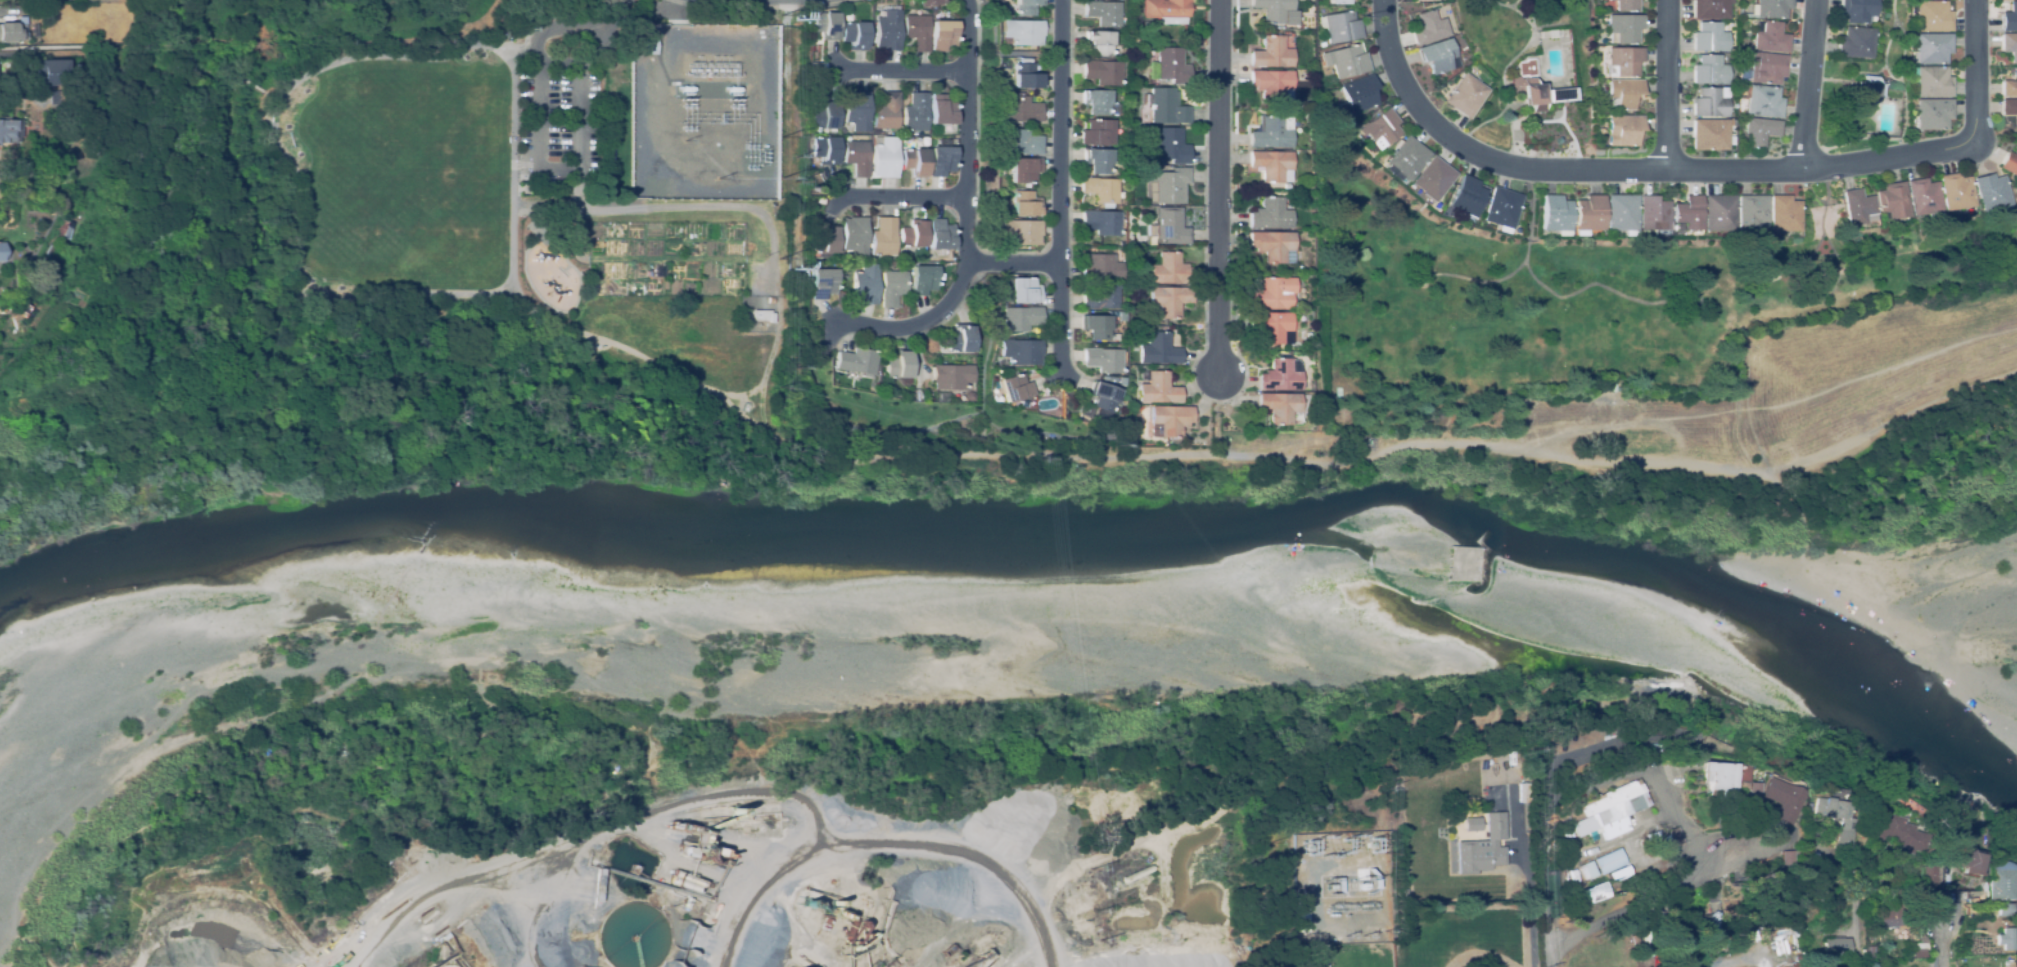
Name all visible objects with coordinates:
building: (1426, 0)
building: (121, 1)
building: (1338, 1)
building: (928, 2)
building: (1626, 5)
building: (1027, 7)
building: (1770, 8)
building: (1273, 9)
building: (1710, 9)
road: (7, 10)
road: (615, 11)
building: (1166, 11)
building: (1858, 11)
building: (1103, 12)
building: (1931, 16)
building: (2009, 18)
building: (825, 25)
building: (1341, 26)
building: (1430, 27)
building: (1625, 27)
building: (32, 31)
building: (887, 31)
building: (916, 31)
building: (1023, 31)
building: (7, 33)
building: (854, 35)
building: (942, 35)
building: (1709, 37)
building: (1770, 38)
building: (1131, 41)
building: (1099, 42)
building: (1856, 42)
building: (2009, 45)
road: (144, 48)
building: (1931, 48)
road: (520, 51)
building: (1271, 53)
building: (1438, 56)
building: (1344, 60)
building: (1625, 60)
building: (813, 66)
building: (1171, 66)
building: (1767, 68)
road: (902, 69)
building: (1709, 70)
road: (1975, 70)
building: (1102, 72)
building: (47, 73)
building: (1312, 73)
building: (1025, 76)
building: (1931, 82)
road: (1809, 83)
building: (1272, 85)
road: (1667, 85)
building: (1321, 87)
building: (2009, 88)
building: (1537, 89)
building: (1624, 92)
building: (1866, 92)
building: (1359, 93)
building: (1465, 95)
building: (1319, 97)
building: (1763, 101)
building: (1710, 102)
building: (1098, 103)
building: (63, 104)
building: (1166, 107)
building: (2009, 107)
building: (1022, 109)
building: (856, 110)
building: (941, 110)
building: (1286, 110)
building: (704, 111)
power substation: (704, 111)
building: (886, 112)
building: (915, 112)
building: (1932, 113)
building: (824, 116)
building: (1380, 128)
building: (1731, 128)
building: (8, 130)
building: (1623, 130)
building: (1758, 131)
building: (1096, 132)
building: (1270, 133)
building: (1709, 134)
building: (1731, 141)
building: (1021, 142)
building: (1168, 146)
building: (825, 150)
building: (856, 157)
building: (885, 157)
building: (1406, 158)
building: (941, 160)
building: (1098, 160)
building: (915, 161)
building: (2009, 163)
building: (1272, 165)
building: (1024, 169)
road: (1630, 171)
road: (537, 172)
park: (406, 173)
building: (1432, 178)
building: (1170, 186)
building: (1286, 186)
road: (1059, 187)
road: (1218, 187)
building: (1101, 189)
road: (581, 191)
building: (1003, 192)
building: (1990, 192)
building: (1956, 193)
road: (901, 196)
building: (1466, 196)
building: (1923, 198)
building: (1892, 200)
building: (822, 201)
park: (520, 202)
building: (1025, 203)
building: (1857, 206)
building: (1501, 208)
building: (1150, 209)
building: (1688, 212)
building: (1719, 212)
building: (1621, 213)
building: (1783, 213)
building: (1269, 214)
building: (1555, 214)
building: (1588, 214)
building: (1653, 214)
building: (1750, 214)
road: (966, 221)
building: (1100, 222)
building: (1167, 227)
building: (63, 229)
building: (1021, 231)
building: (1297, 233)
building: (913, 235)
building: (940, 235)
building: (884, 236)
building: (854, 237)
building: (824, 242)
building: (1272, 246)
building: (46, 251)
road: (1013, 263)
building: (1099, 267)
building: (1168, 269)
building: (922, 279)
building: (822, 283)
road: (296, 284)
building: (865, 284)
building: (892, 288)
building: (1019, 290)
building: (1271, 294)
building: (1098, 297)
building: (770, 300)
building: (1167, 300)
building: (763, 316)
road: (778, 318)
building: (1018, 318)
building: (1268, 326)
building: (1095, 328)
building: (959, 340)
building: (1155, 350)
building: (1018, 351)
building: (1100, 359)
building: (856, 361)
building: (897, 365)
building: (1007, 371)
building: (949, 376)
building: (1277, 376)
building: (1118, 382)
building: (1011, 388)
building: (1155, 389)
building: (1099, 398)
building: (1276, 406)
building: (1165, 420)
river: (1018, 549)
road: (1615, 768)
building: (1715, 779)
building: (1744, 792)
building: (1772, 800)
building: (1600, 811)
building: (1835, 834)
building: (1893, 834)
building: (1644, 837)
building: (1664, 839)
building: (1464, 842)
building: (1959, 856)
building: (1778, 859)
building: (1603, 862)
building: (1582, 871)
building: (1612, 873)
building: (1569, 875)
building: (1928, 875)
building: (1997, 886)
road: (1655, 889)
building: (1587, 892)
building: (860, 903)
building: (2005, 911)
building: (477, 914)
road: (1550, 914)
building: (1894, 916)
building: (824, 924)
building: (1713, 928)
building: (1917, 933)
building: (1666, 935)
building: (444, 936)
building: (1307, 936)
road: (1849, 937)
building: (1645, 940)
road: (1944, 940)
building: (2006, 940)
building: (1795, 941)
building: (1422, 945)
building: (1835, 949)
building: (1920, 951)
building: (1367, 954)
building: (2010, 962)
building: (879, 965)

